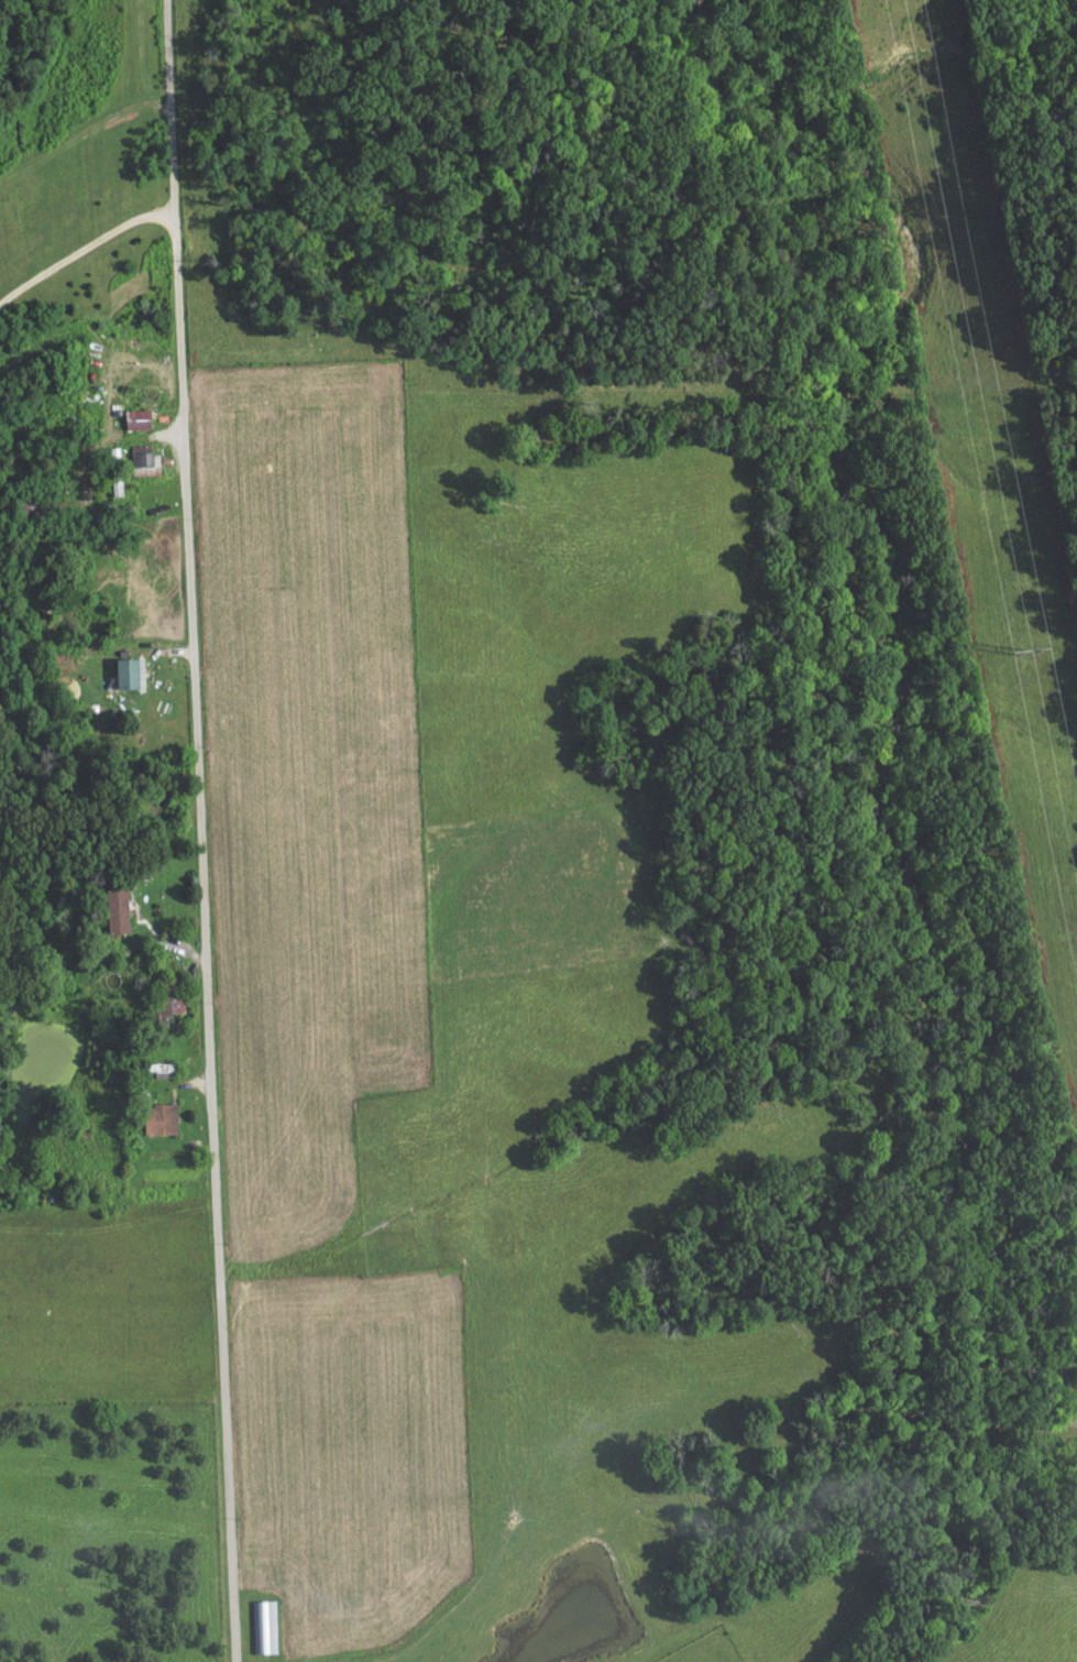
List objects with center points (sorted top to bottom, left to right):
building: (142, 460)
power tower: (1022, 653)
building: (131, 680)
road: (199, 830)
building: (109, 916)
building: (152, 1125)
building: (259, 1632)

